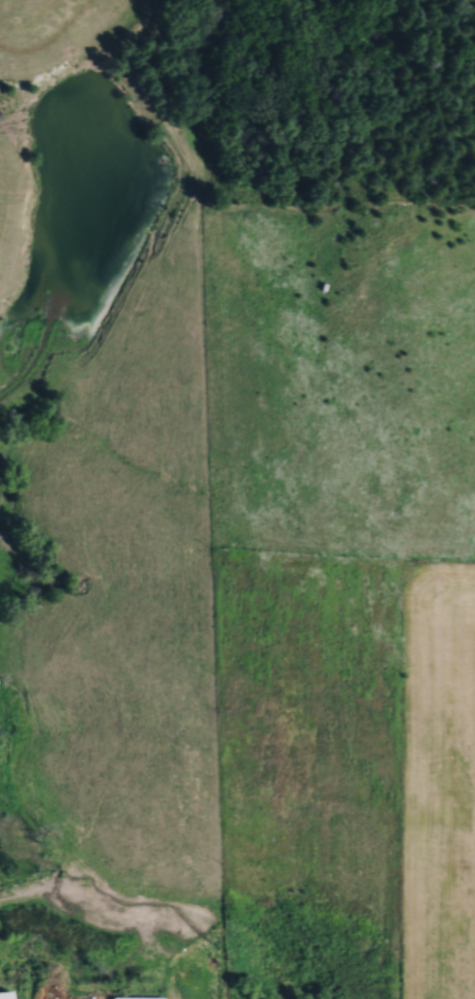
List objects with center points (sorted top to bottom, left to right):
building: (2, 994)
building: (131, 997)

